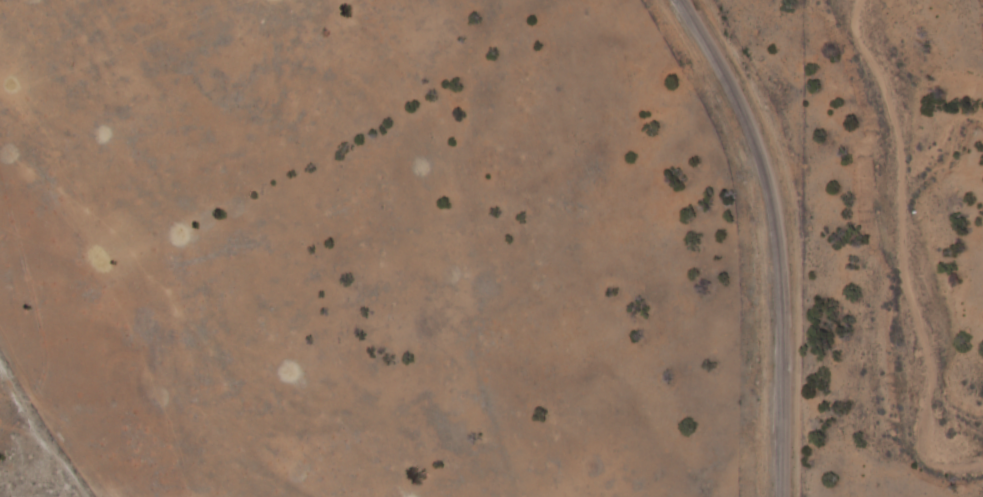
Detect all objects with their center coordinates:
road: (777, 237)

